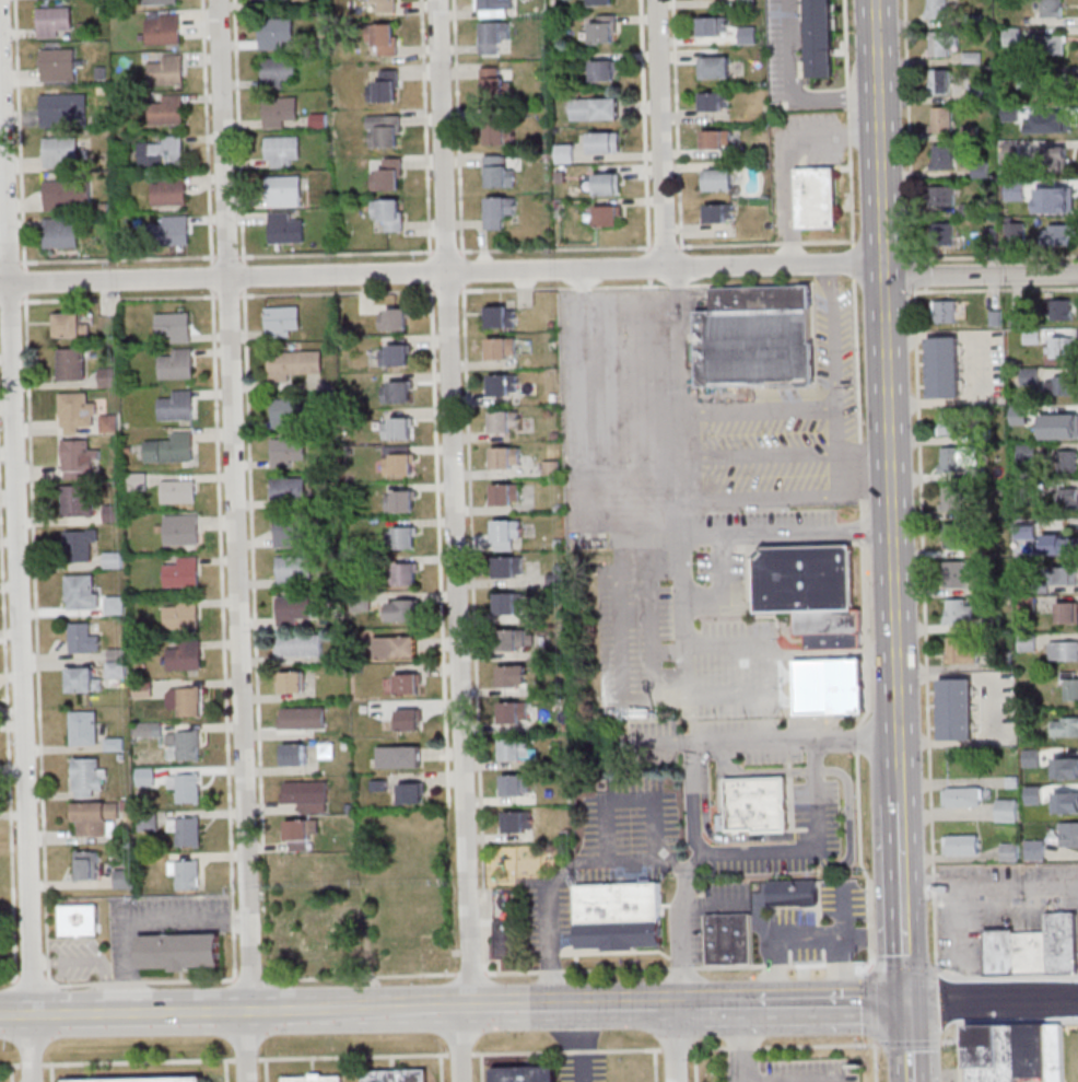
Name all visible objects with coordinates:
building: (159, 1)
building: (601, 2)
building: (267, 4)
building: (386, 5)
building: (495, 8)
building: (937, 8)
building: (1052, 8)
building: (55, 21)
building: (713, 25)
building: (163, 27)
building: (602, 28)
building: (274, 32)
building: (493, 35)
building: (1012, 35)
building: (383, 37)
building: (820, 38)
building: (939, 43)
building: (1054, 49)
building: (58, 63)
building: (715, 67)
building: (167, 70)
building: (605, 70)
building: (278, 71)
building: (941, 81)
building: (495, 84)
building: (385, 85)
road: (792, 89)
building: (715, 101)
building: (63, 108)
building: (595, 108)
building: (167, 109)
building: (279, 110)
building: (942, 118)
building: (1056, 119)
road: (644, 123)
road: (678, 123)
road: (848, 123)
road: (425, 127)
road: (458, 127)
building: (496, 130)
building: (387, 131)
road: (19, 133)
road: (663, 135)
road: (223, 138)
building: (717, 139)
building: (605, 142)
building: (282, 149)
building: (60, 151)
building: (163, 151)
building: (565, 152)
building: (942, 158)
building: (1054, 159)
building: (980, 171)
building: (499, 172)
building: (388, 175)
building: (719, 178)
building: (609, 183)
building: (168, 189)
building: (285, 190)
building: (66, 193)
building: (944, 195)
building: (1055, 196)
building: (817, 197)
building: (499, 210)
building: (719, 212)
building: (389, 213)
building: (609, 216)
building: (285, 229)
building: (172, 230)
building: (60, 233)
building: (944, 233)
building: (1061, 234)
road: (765, 243)
road: (665, 246)
road: (554, 248)
road: (445, 251)
road: (879, 254)
road: (225, 256)
road: (992, 256)
road: (9, 261)
road: (648, 261)
road: (853, 263)
road: (462, 269)
road: (431, 270)
road: (556, 271)
road: (982, 275)
road: (24, 281)
road: (113, 281)
road: (649, 281)
road: (751, 283)
road: (678, 284)
road: (629, 286)
road: (553, 287)
road: (583, 287)
road: (489, 288)
road: (525, 288)
road: (447, 290)
road: (337, 292)
road: (229, 295)
road: (118, 298)
building: (762, 299)
road: (10, 301)
building: (1062, 309)
building: (945, 311)
building: (501, 315)
building: (394, 319)
building: (282, 321)
building: (71, 325)
building: (174, 326)
road: (833, 338)
building: (1063, 346)
building: (501, 347)
building: (758, 348)
building: (395, 354)
road: (857, 360)
building: (71, 363)
building: (176, 363)
building: (293, 363)
building: (945, 367)
building: (108, 375)
building: (1030, 375)
building: (503, 384)
road: (891, 385)
building: (1061, 385)
building: (397, 392)
building: (177, 406)
road: (247, 409)
building: (77, 411)
road: (758, 411)
building: (290, 412)
building: (505, 420)
building: (949, 421)
building: (109, 422)
building: (1063, 422)
building: (398, 428)
road: (589, 429)
parking lot: (786, 433)
building: (171, 447)
building: (1028, 451)
building: (289, 452)
road: (835, 453)
building: (506, 456)
road: (759, 456)
building: (957, 457)
building: (79, 458)
building: (398, 459)
building: (1067, 461)
road: (860, 468)
road: (866, 470)
building: (138, 480)
road: (681, 485)
road: (218, 489)
building: (289, 490)
road: (921, 490)
building: (176, 491)
building: (506, 492)
building: (952, 497)
road: (760, 499)
building: (1067, 499)
building: (78, 500)
building: (401, 501)
road: (862, 507)
road: (19, 509)
road: (862, 528)
building: (181, 530)
building: (507, 530)
building: (288, 531)
road: (789, 532)
building: (956, 534)
building: (402, 537)
road: (457, 540)
building: (1061, 543)
building: (80, 544)
building: (114, 561)
building: (508, 566)
building: (293, 570)
building: (183, 572)
building: (403, 573)
building: (956, 573)
building: (1067, 574)
parking lot: (719, 580)
building: (809, 580)
road: (720, 583)
building: (82, 591)
road: (864, 594)
building: (509, 602)
building: (116, 604)
building: (293, 608)
building: (405, 610)
building: (960, 610)
building: (1067, 612)
building: (181, 614)
building: (827, 623)
road: (473, 628)
parking lot: (637, 629)
road: (442, 630)
road: (651, 637)
building: (83, 638)
building: (512, 638)
road: (621, 638)
building: (832, 640)
building: (300, 644)
building: (396, 647)
building: (1064, 650)
road: (867, 651)
building: (961, 651)
road: (835, 652)
building: (185, 655)
building: (116, 668)
road: (770, 668)
parking lot: (735, 671)
building: (513, 674)
building: (83, 679)
road: (239, 679)
building: (292, 680)
building: (408, 683)
building: (1070, 686)
building: (833, 688)
road: (870, 694)
building: (189, 700)
building: (958, 708)
road: (994, 708)
building: (514, 711)
building: (303, 717)
building: (409, 719)
building: (1065, 725)
building: (83, 726)
road: (38, 730)
road: (857, 738)
road: (817, 740)
road: (8, 741)
building: (186, 743)
road: (686, 743)
building: (515, 747)
building: (294, 754)
road: (816, 755)
building: (400, 756)
road: (729, 757)
building: (1071, 766)
building: (86, 772)
road: (847, 780)
building: (516, 784)
building: (188, 787)
road: (906, 787)
building: (411, 793)
building: (307, 795)
building: (963, 796)
road: (693, 799)
road: (620, 801)
building: (1073, 802)
building: (758, 803)
building: (1007, 808)
road: (816, 811)
building: (94, 816)
building: (517, 821)
building: (186, 829)
building: (300, 834)
building: (1069, 834)
road: (716, 838)
road: (860, 838)
building: (962, 845)
building: (1036, 849)
building: (1009, 850)
road: (747, 852)
road: (633, 861)
building: (86, 864)
building: (186, 872)
building: (124, 877)
road: (994, 889)
building: (795, 891)
road: (714, 900)
road: (911, 900)
building: (620, 914)
road: (141, 917)
building: (80, 919)
building: (314, 926)
road: (871, 935)
road: (843, 936)
building: (506, 938)
building: (729, 938)
road: (841, 940)
building: (0, 943)
road: (775, 944)
road: (962, 944)
building: (1063, 944)
building: (181, 950)
building: (429, 950)
building: (1001, 953)
building: (1032, 954)
road: (871, 956)
road: (96, 961)
road: (677, 967)
road: (871, 969)
road: (471, 974)
road: (949, 974)
road: (362, 975)
road: (1024, 977)
road: (9, 978)
road: (32, 978)
road: (48, 978)
road: (249, 978)
road: (964, 978)
road: (951, 998)
road: (1046, 999)
road: (963, 1000)
road: (818, 1001)
traffic signals: (914, 1001)
road: (698, 1003)
road: (647, 1005)
road: (309, 1010)
road: (1018, 1021)
road: (916, 1040)
road: (950, 1040)
road: (676, 1043)
road: (746, 1043)
road: (910, 1043)
road: (582, 1044)
road: (878, 1045)
road: (782, 1046)
road: (675, 1048)
road: (36, 1050)
road: (566, 1050)
road: (959, 1050)
building: (1035, 1051)
building: (1059, 1052)
road: (459, 1054)
building: (995, 1054)
road: (224, 1060)
road: (877, 1063)
road: (695, 1064)
road: (654, 1066)
road: (441, 1068)
road: (481, 1068)
road: (266, 1070)
road: (225, 1071)
building: (525, 1073)
building: (397, 1075)
building: (313, 1079)
building: (148, 1080)

